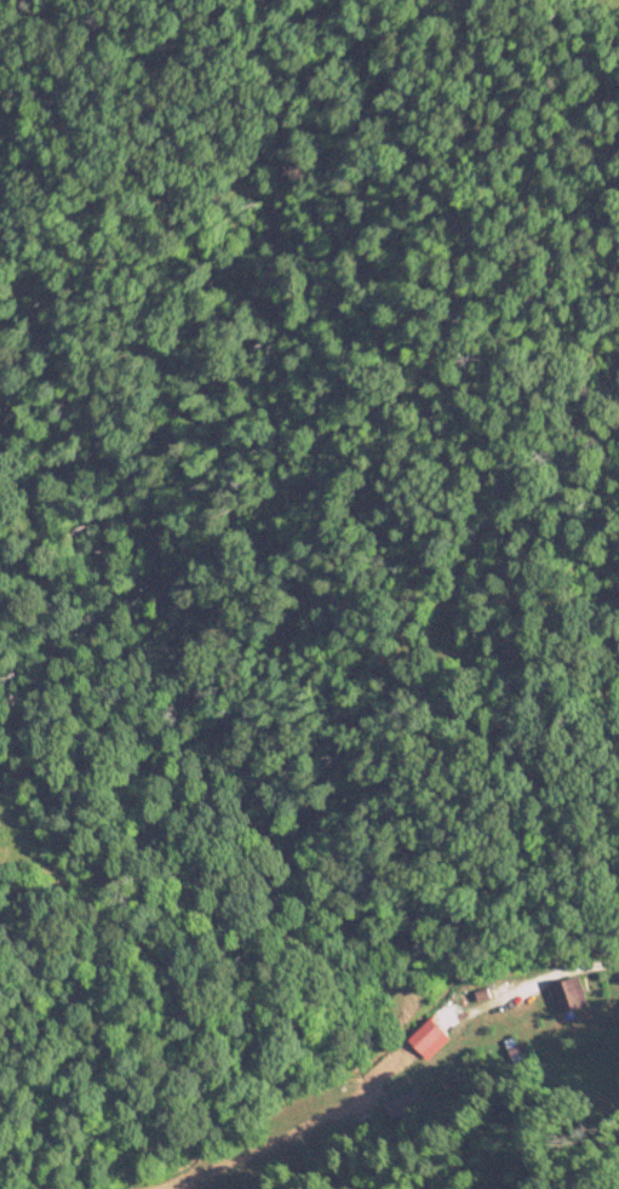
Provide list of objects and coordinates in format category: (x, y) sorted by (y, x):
road: (543, 981)
building: (569, 994)
building: (424, 1037)

